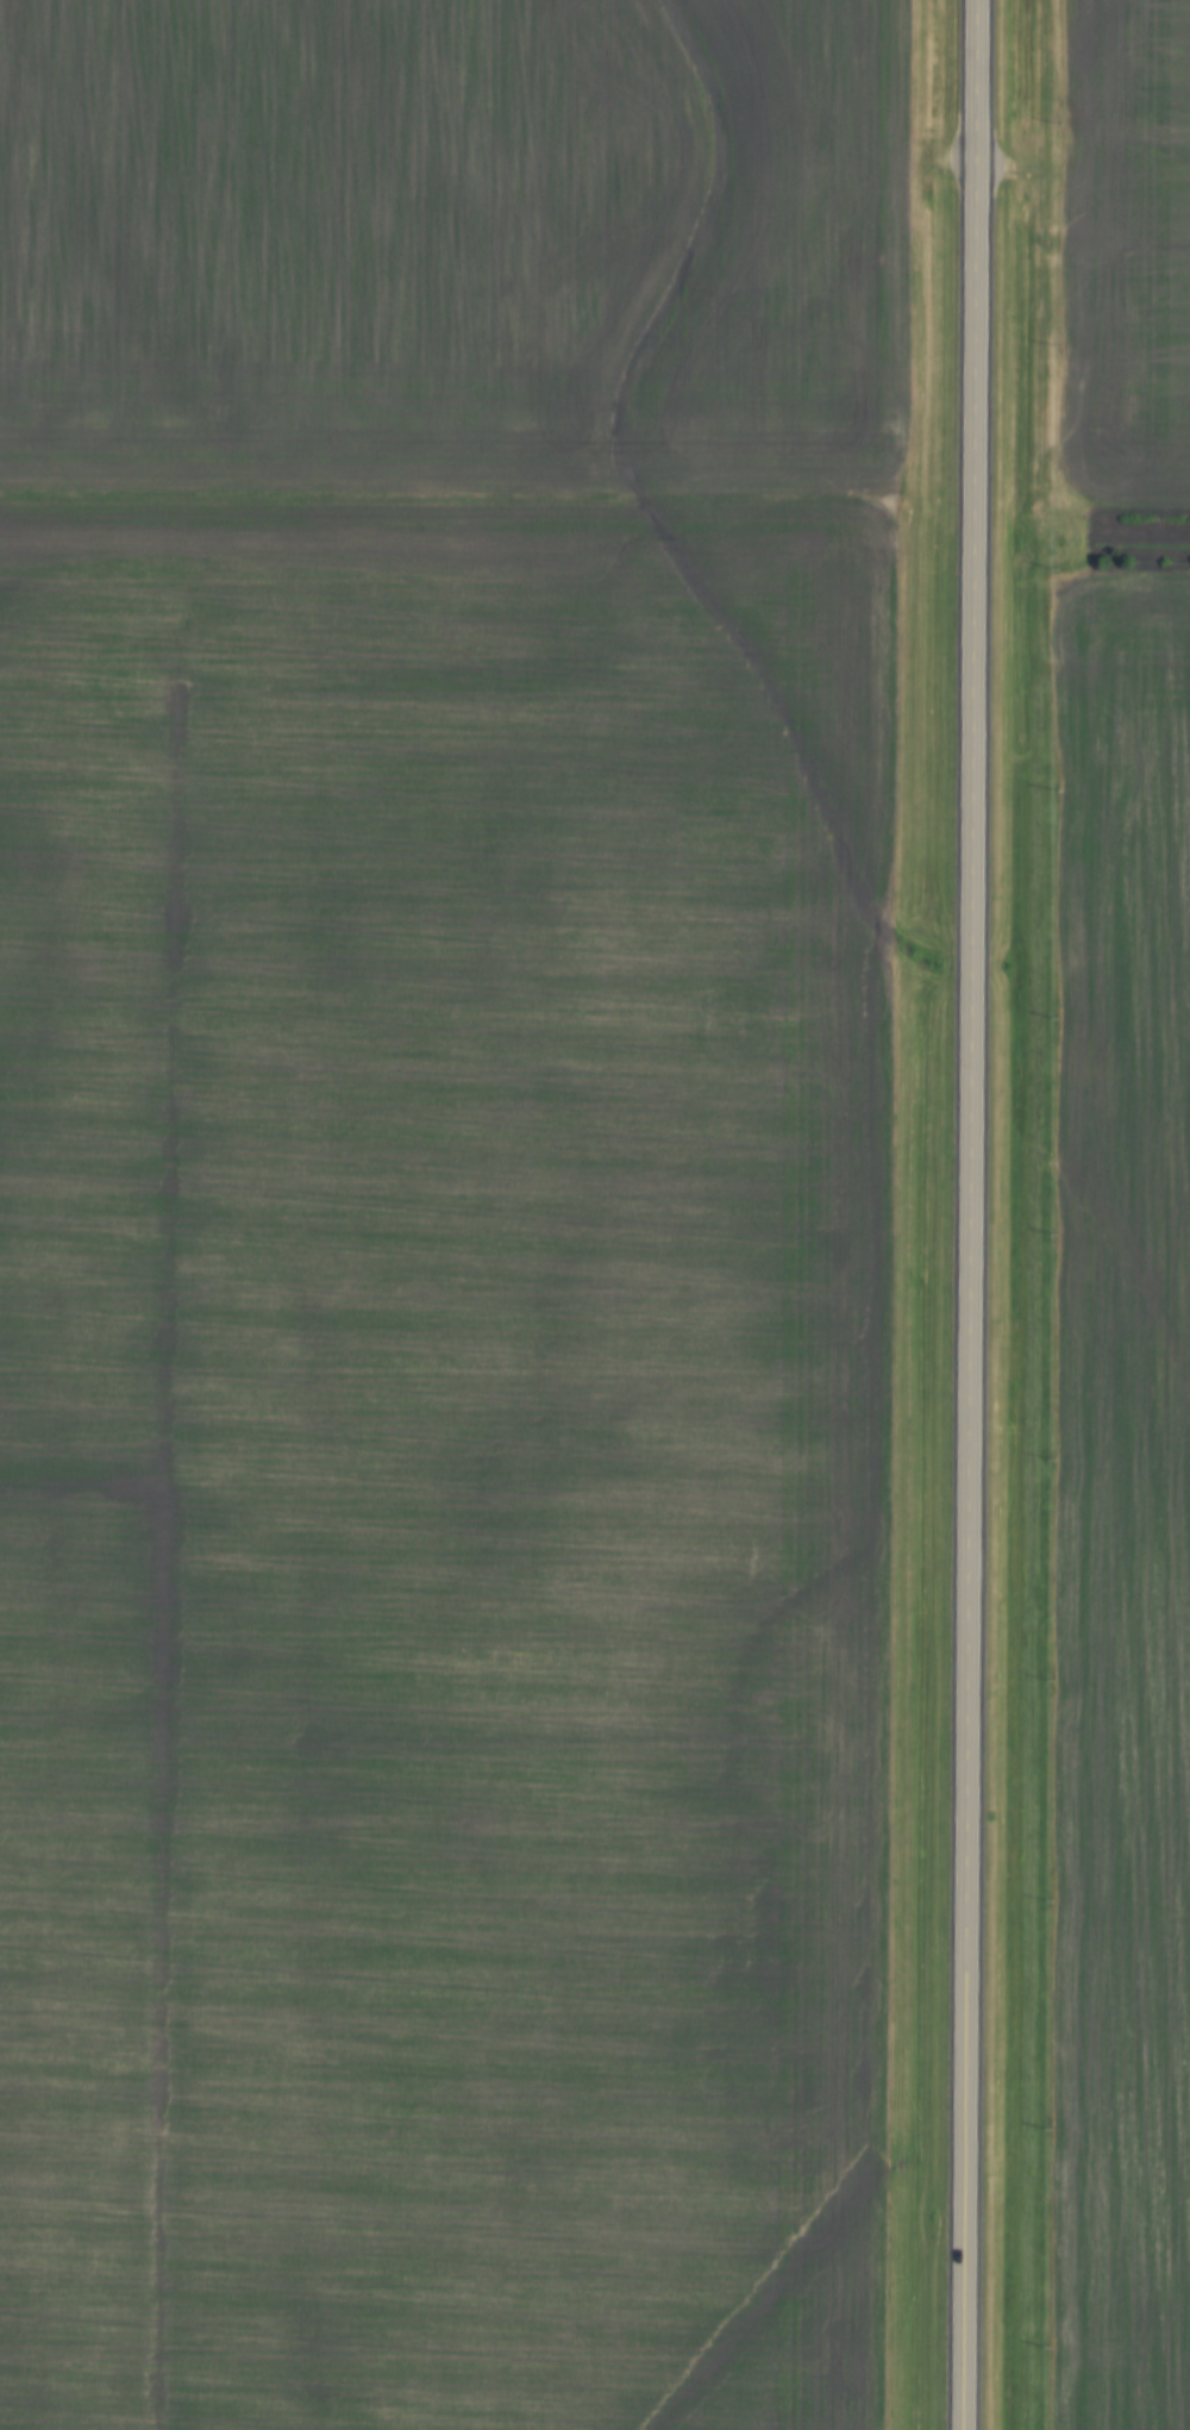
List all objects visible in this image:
road: (967, 1214)

